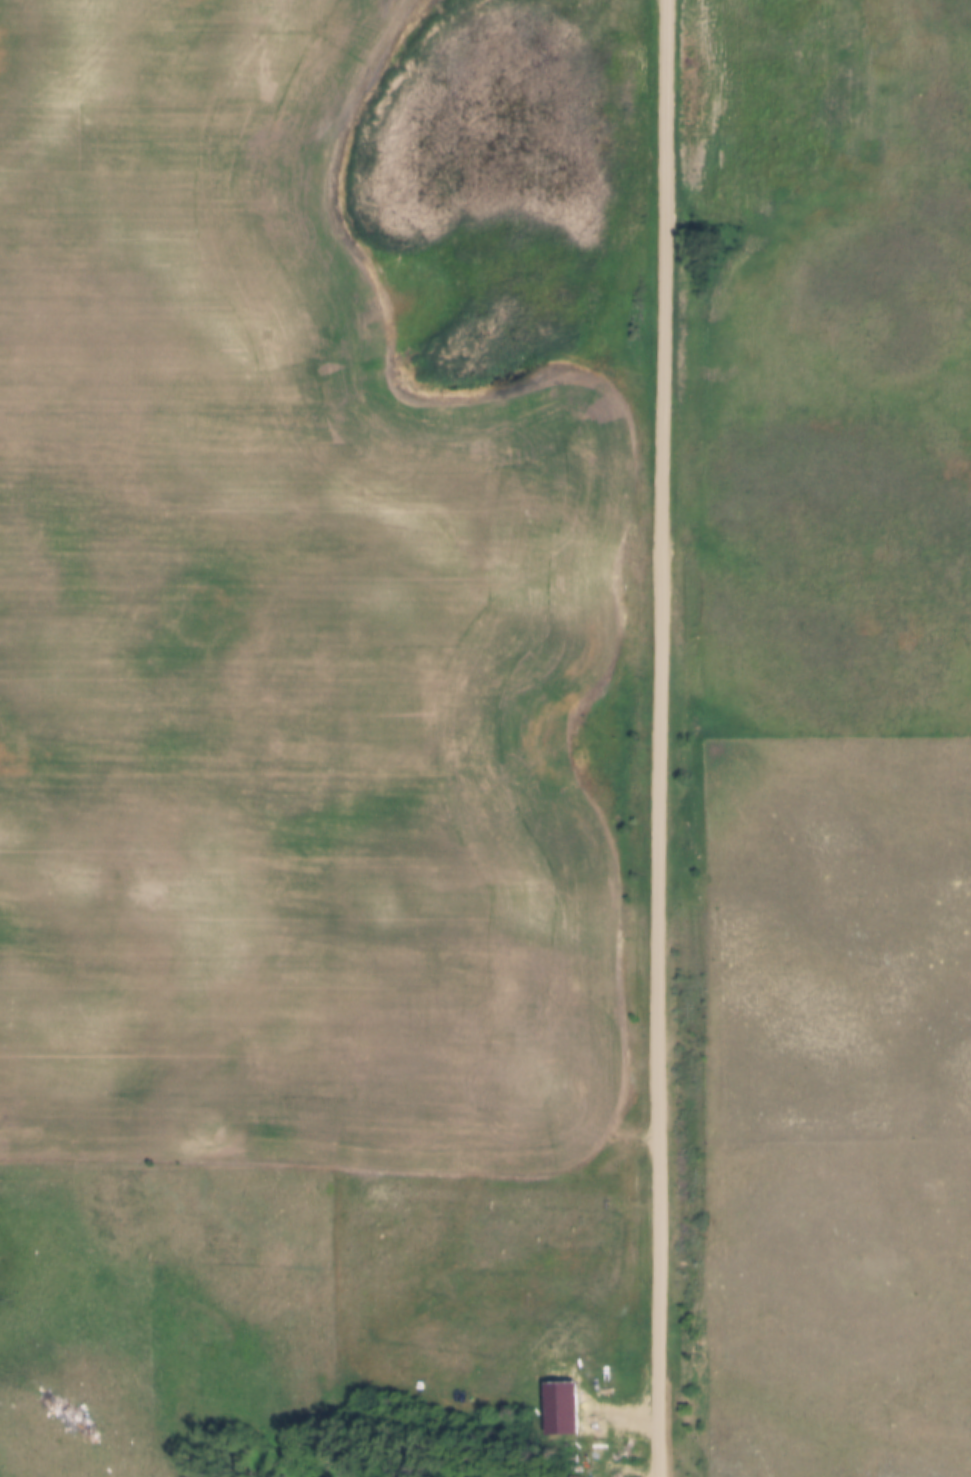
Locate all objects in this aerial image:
road: (659, 738)

